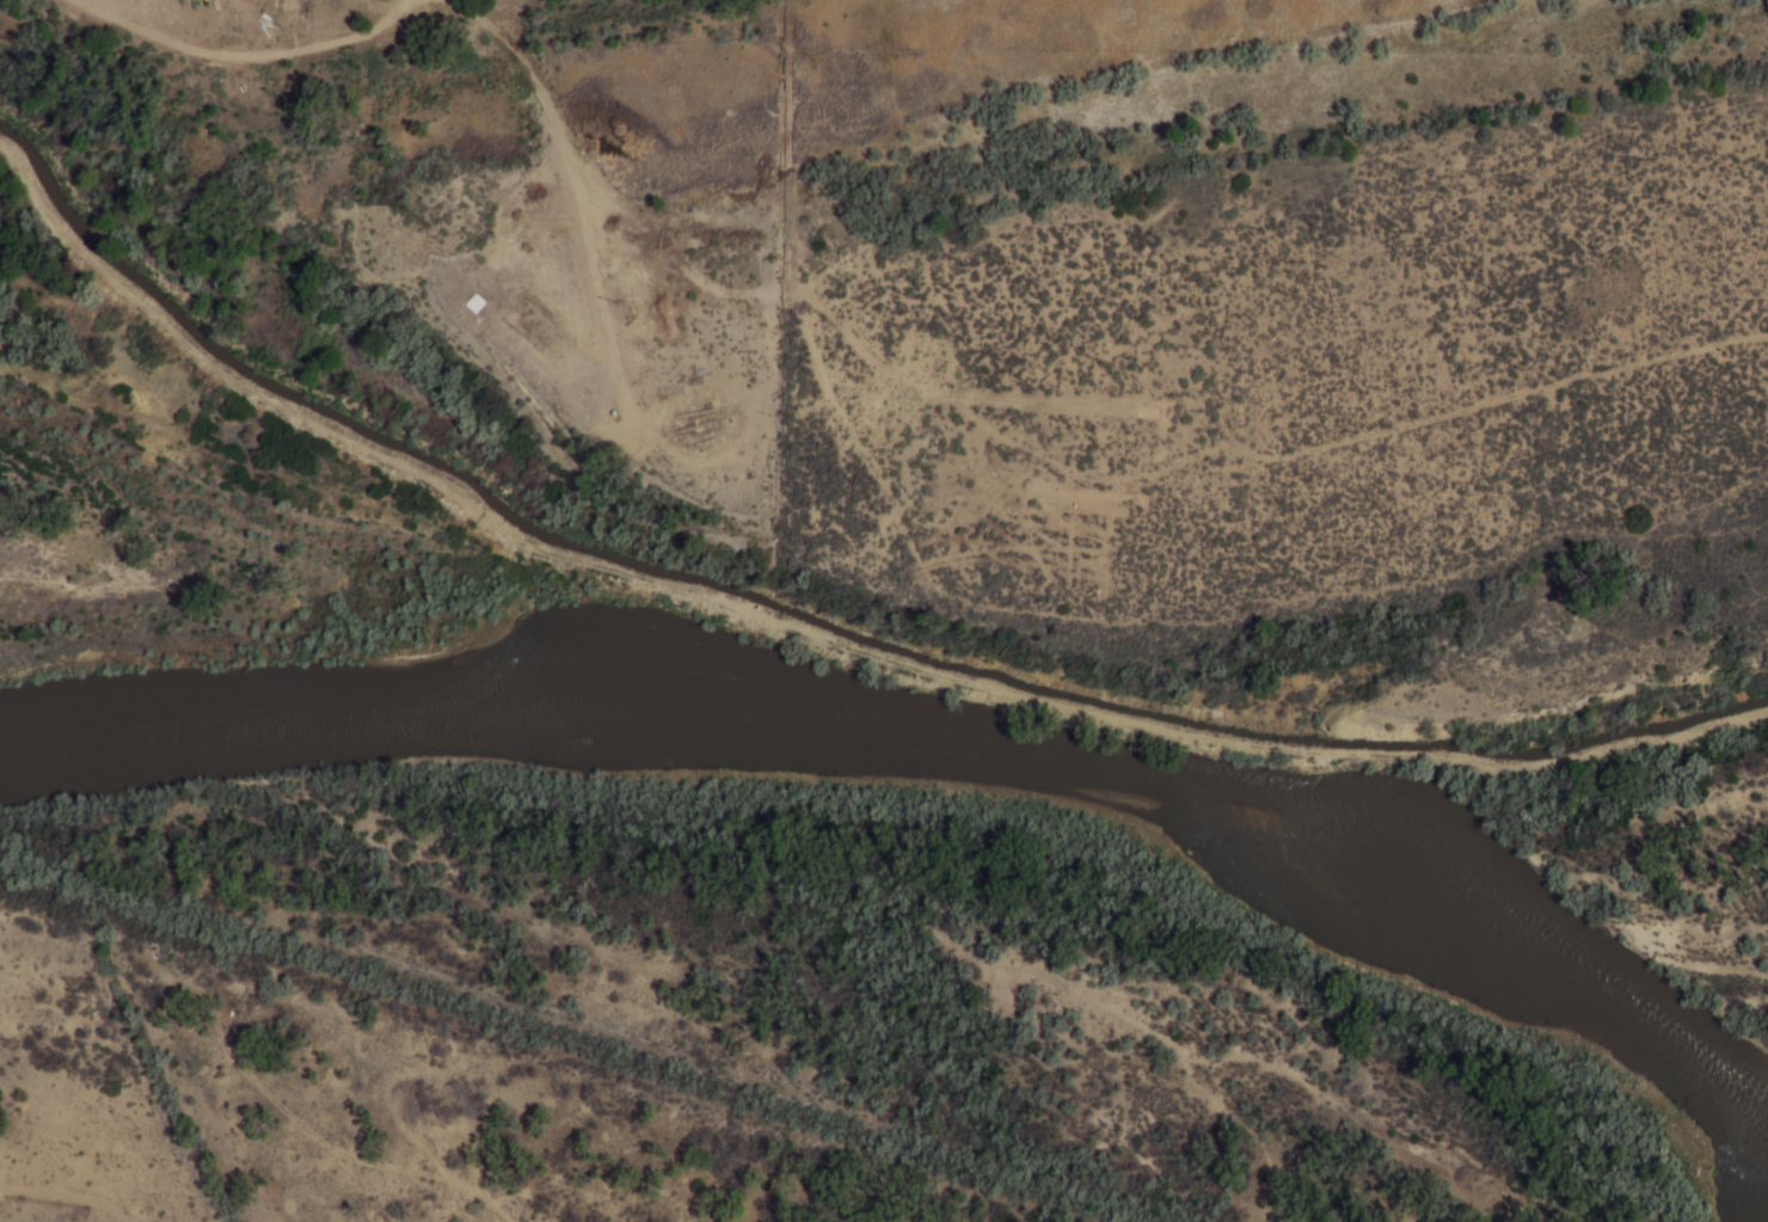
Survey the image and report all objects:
road: (839, 418)
river: (940, 736)

